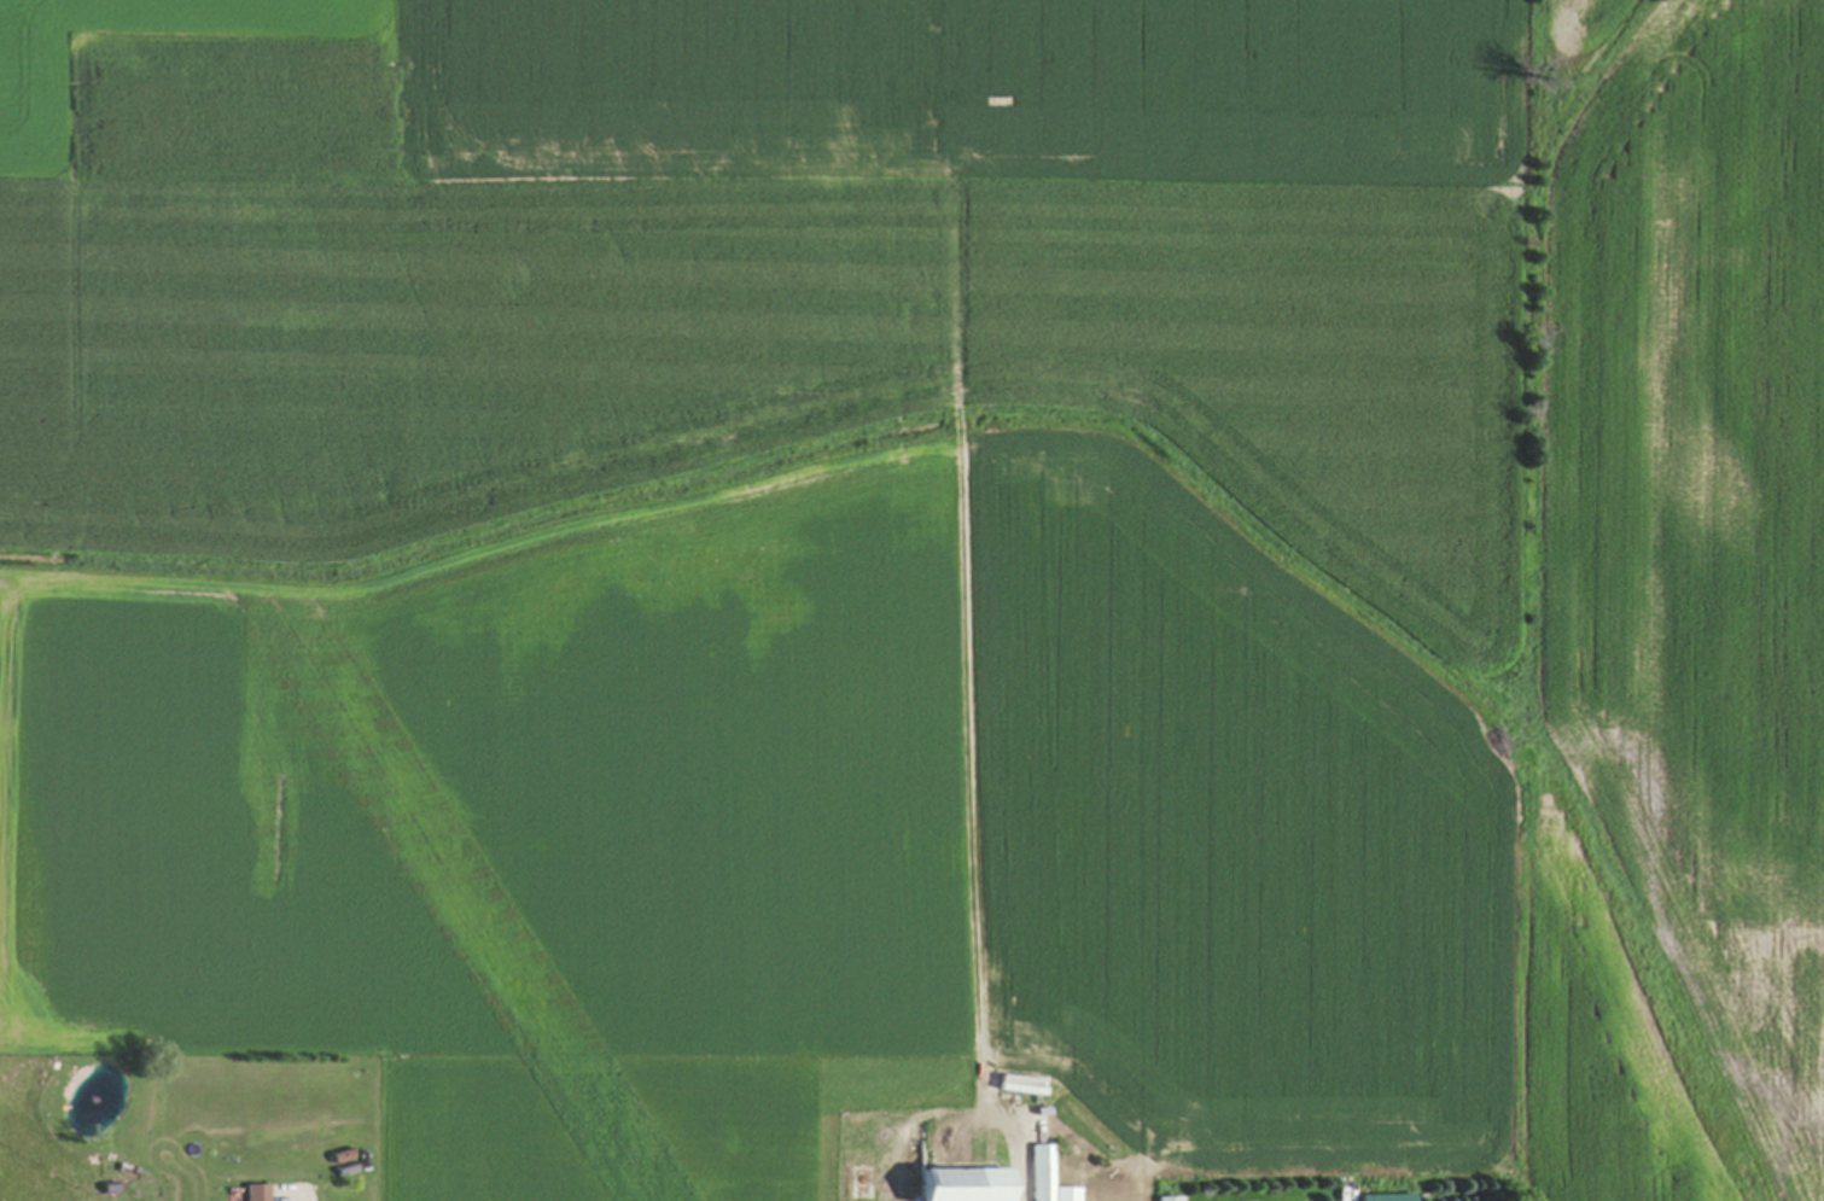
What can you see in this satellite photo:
road: (1020, 1145)
building: (1049, 1177)
building: (969, 1180)
building: (863, 1184)
building: (260, 1193)
road: (311, 1197)
building: (1127, 1197)
road: (1350, 1197)
building: (1388, 1197)
building: (1171, 1200)

